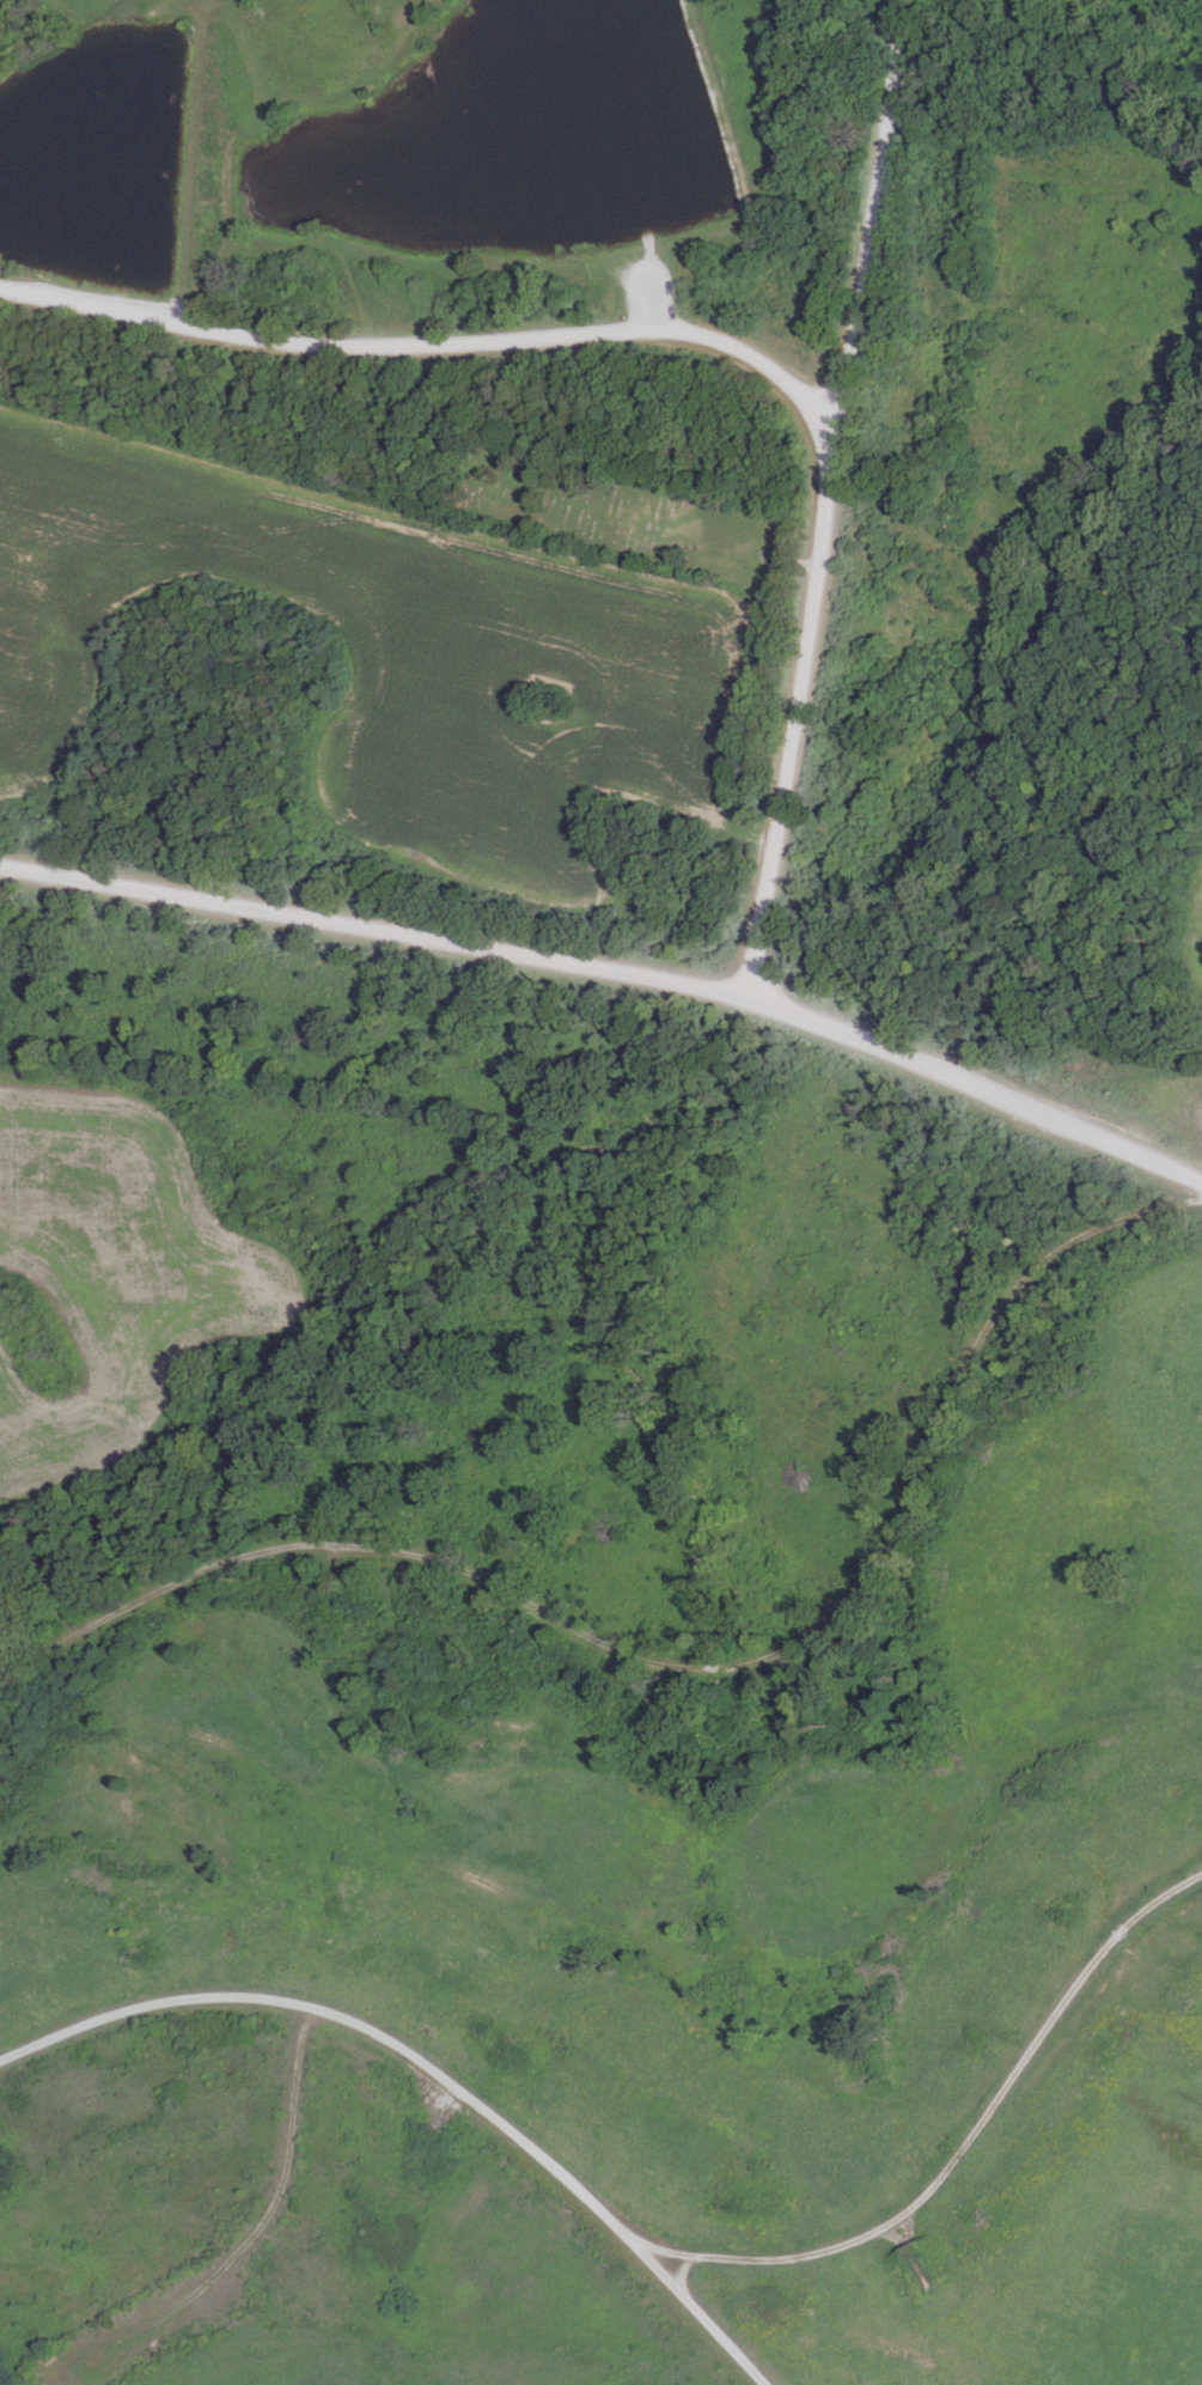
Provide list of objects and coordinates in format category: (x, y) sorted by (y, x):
road: (1164, 30)
dam: (722, 112)
dam: (185, 151)
road: (870, 214)
parking lot: (648, 293)
road: (649, 306)
park: (621, 511)
road: (822, 527)
road: (376, 927)
road: (692, 1667)
road: (431, 2069)
road: (971, 2140)

